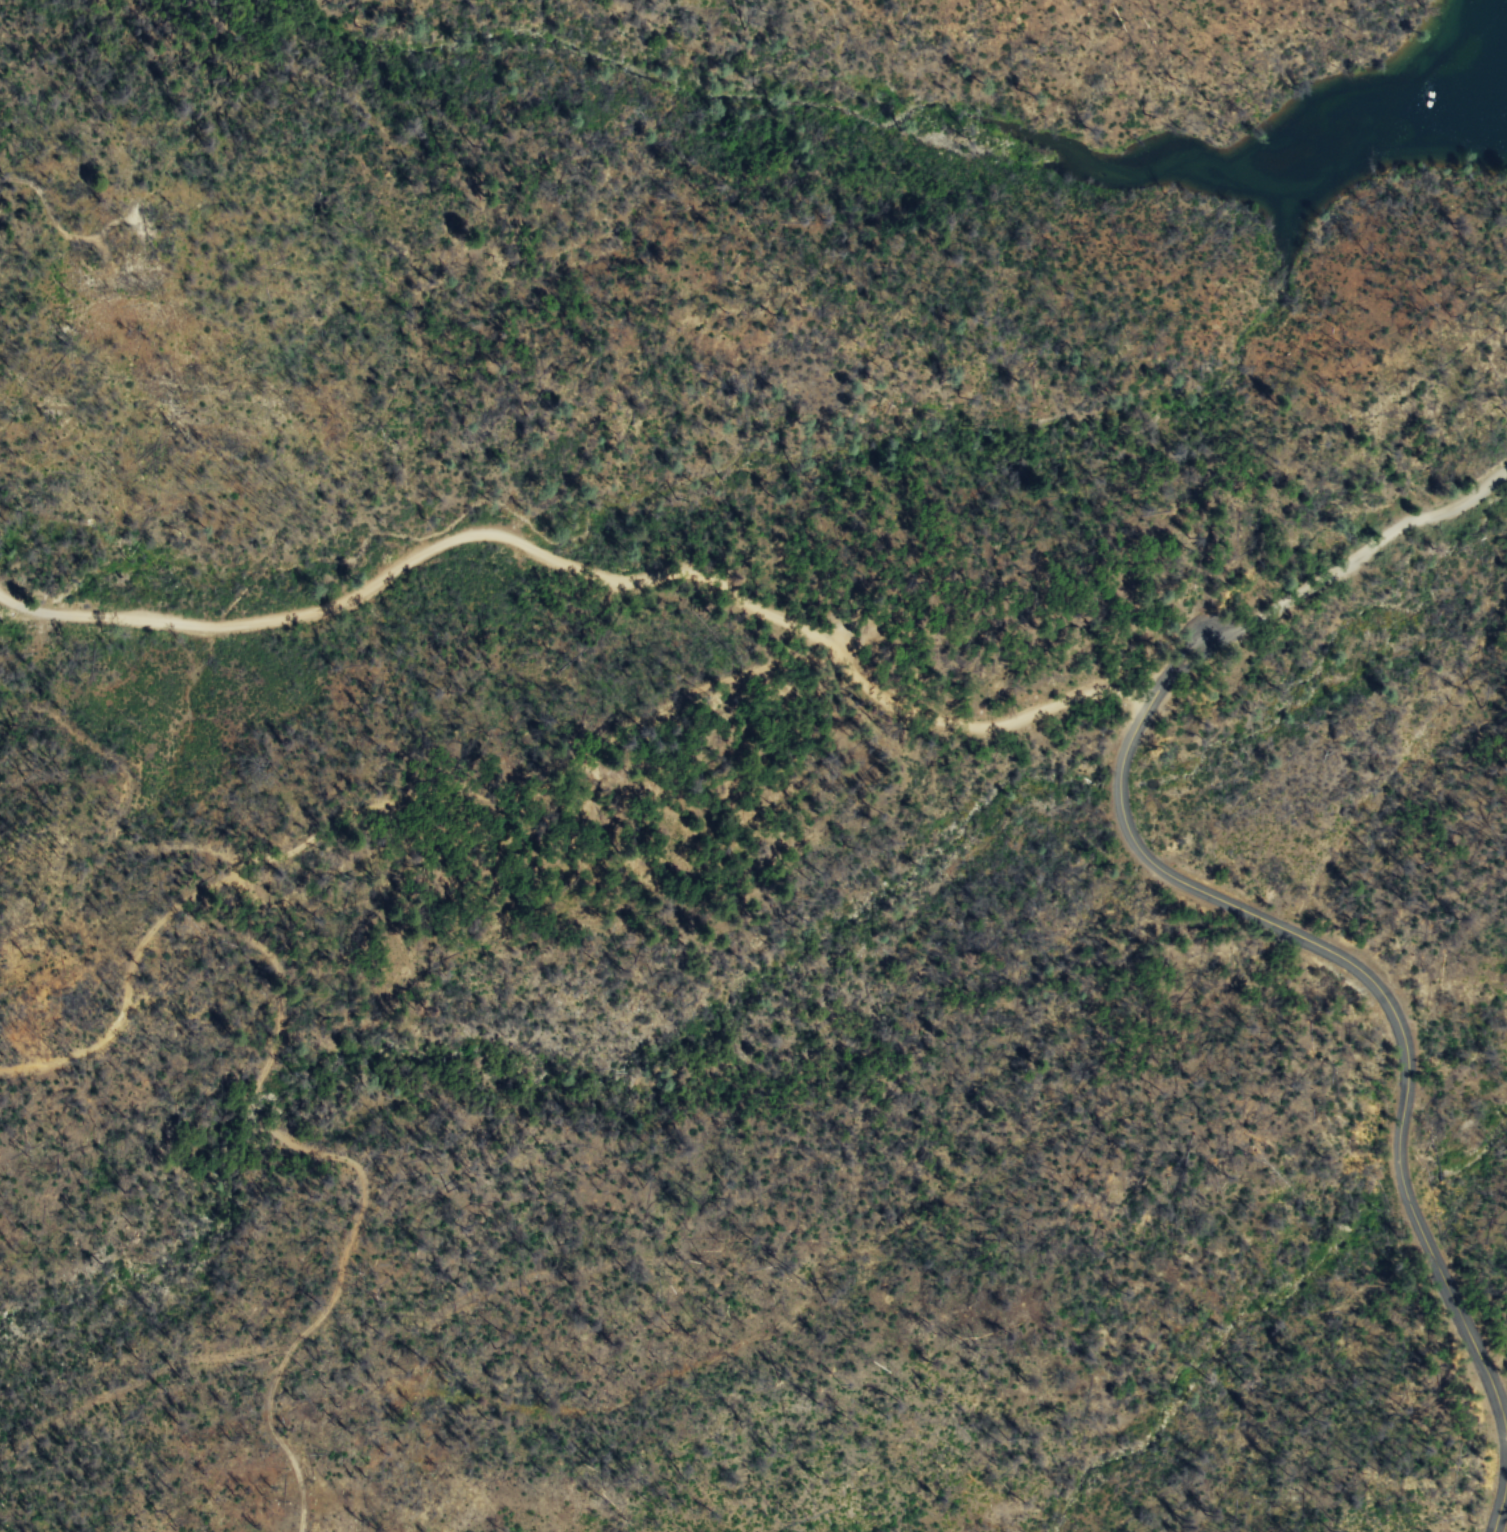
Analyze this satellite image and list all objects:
road: (583, 568)
road: (1325, 583)
road: (1387, 987)
road: (1502, 1515)

